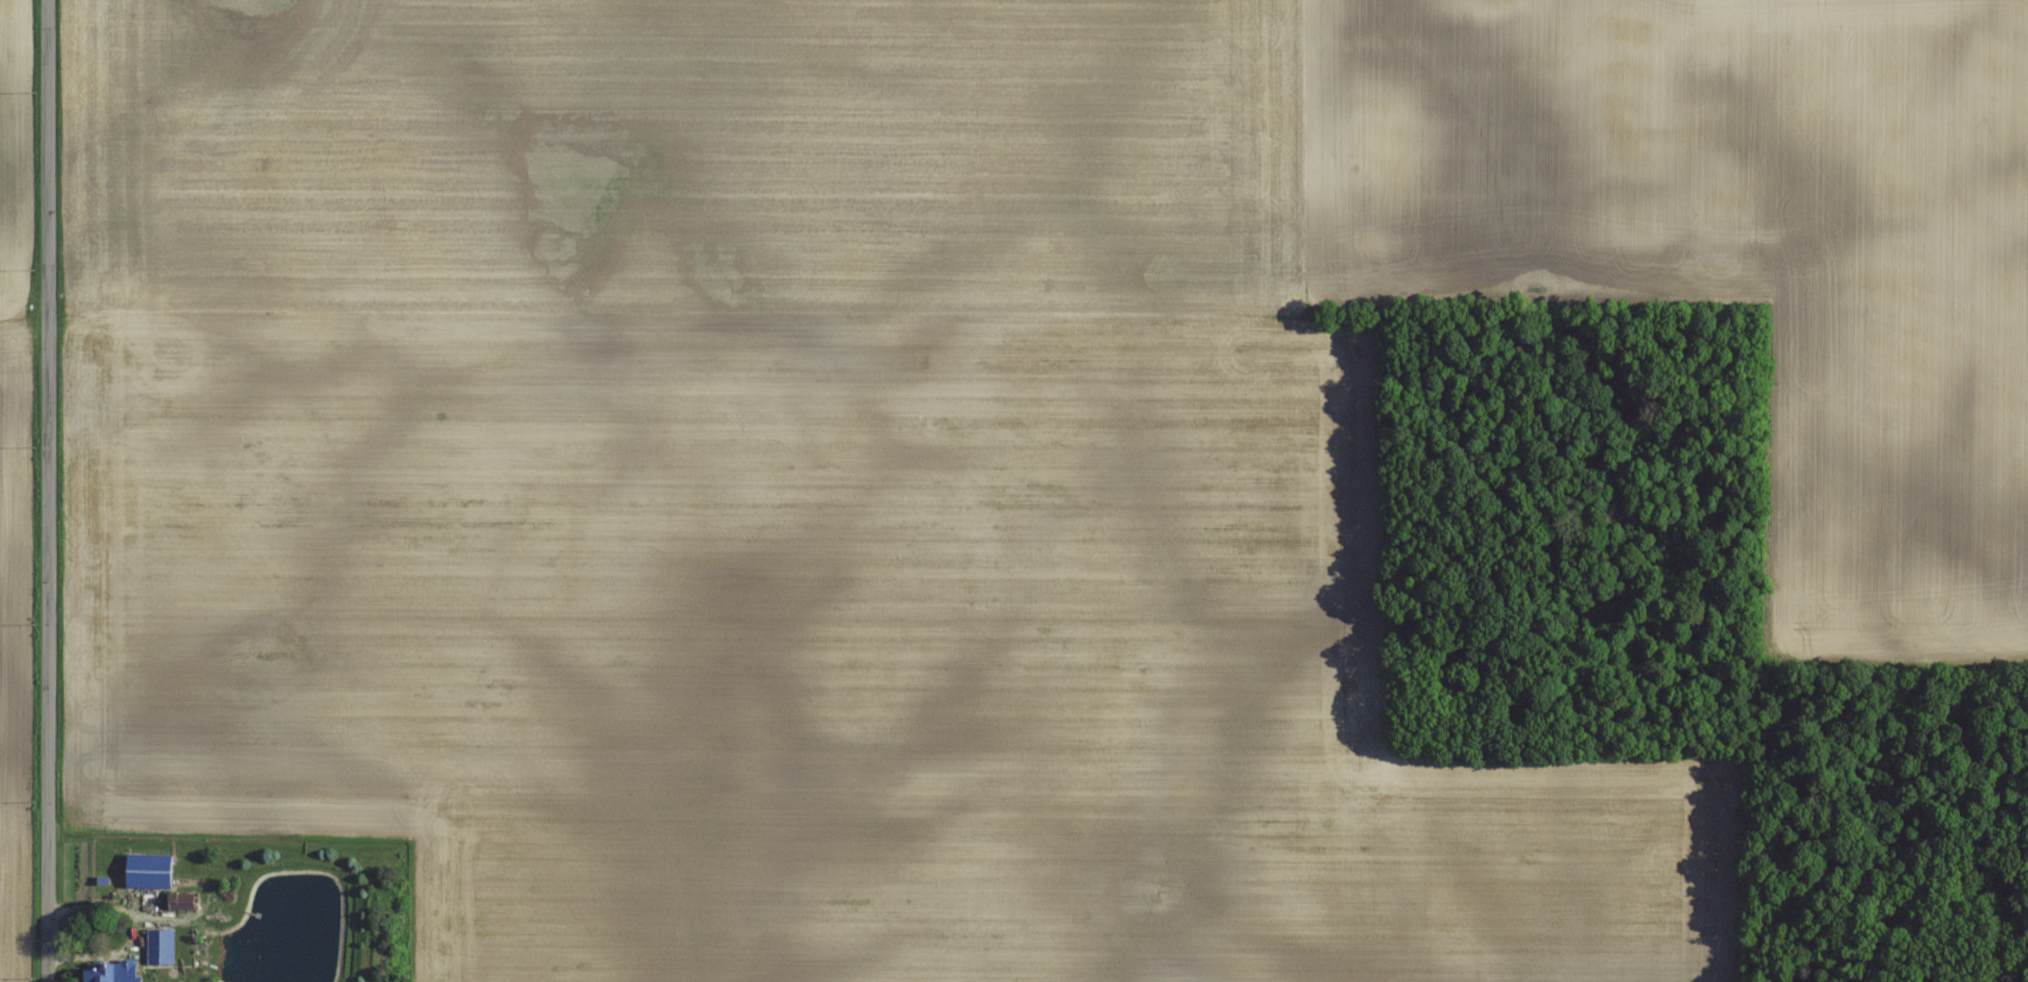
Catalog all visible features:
road: (49, 490)
building: (157, 946)
building: (112, 971)

